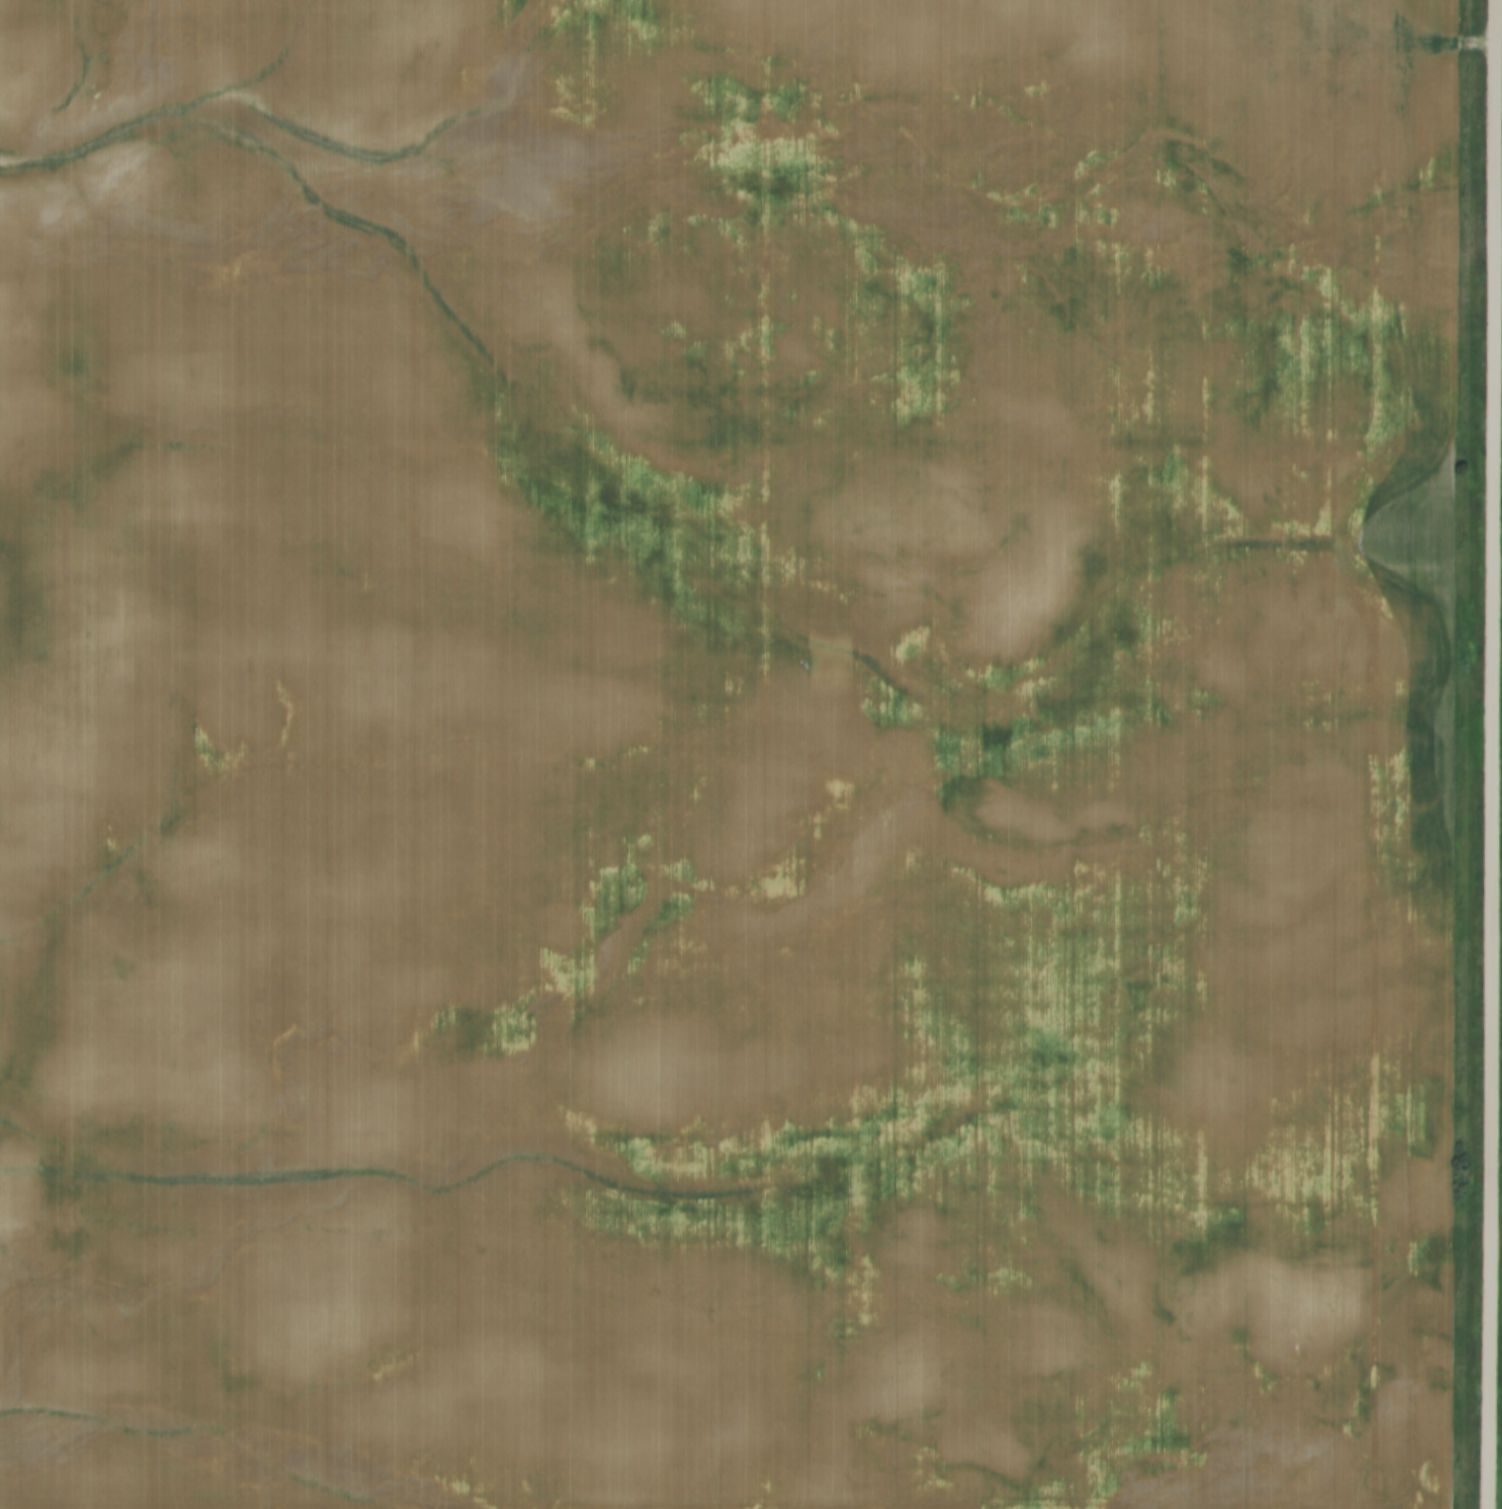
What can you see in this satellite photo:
road: (1492, 754)

